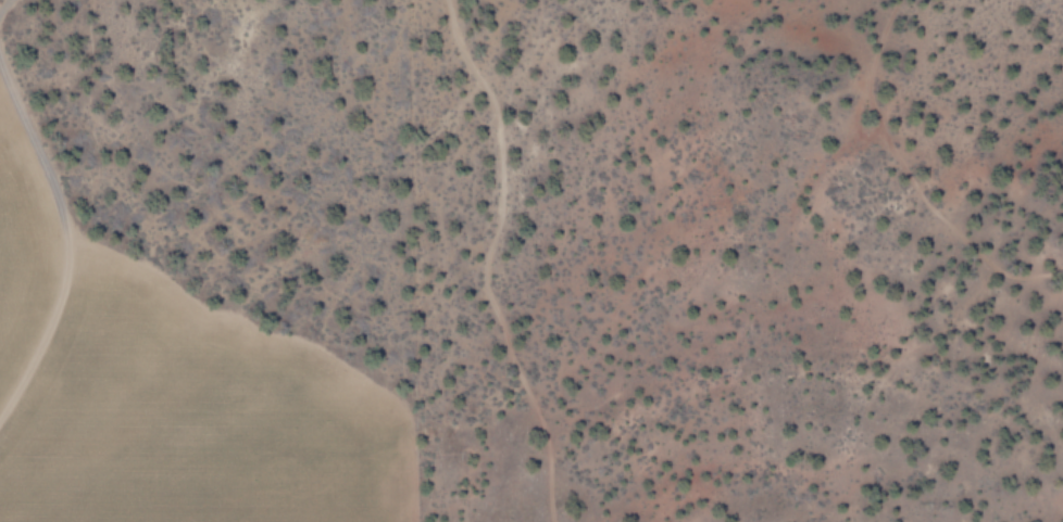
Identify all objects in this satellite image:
road: (62, 237)
crop: (158, 366)

